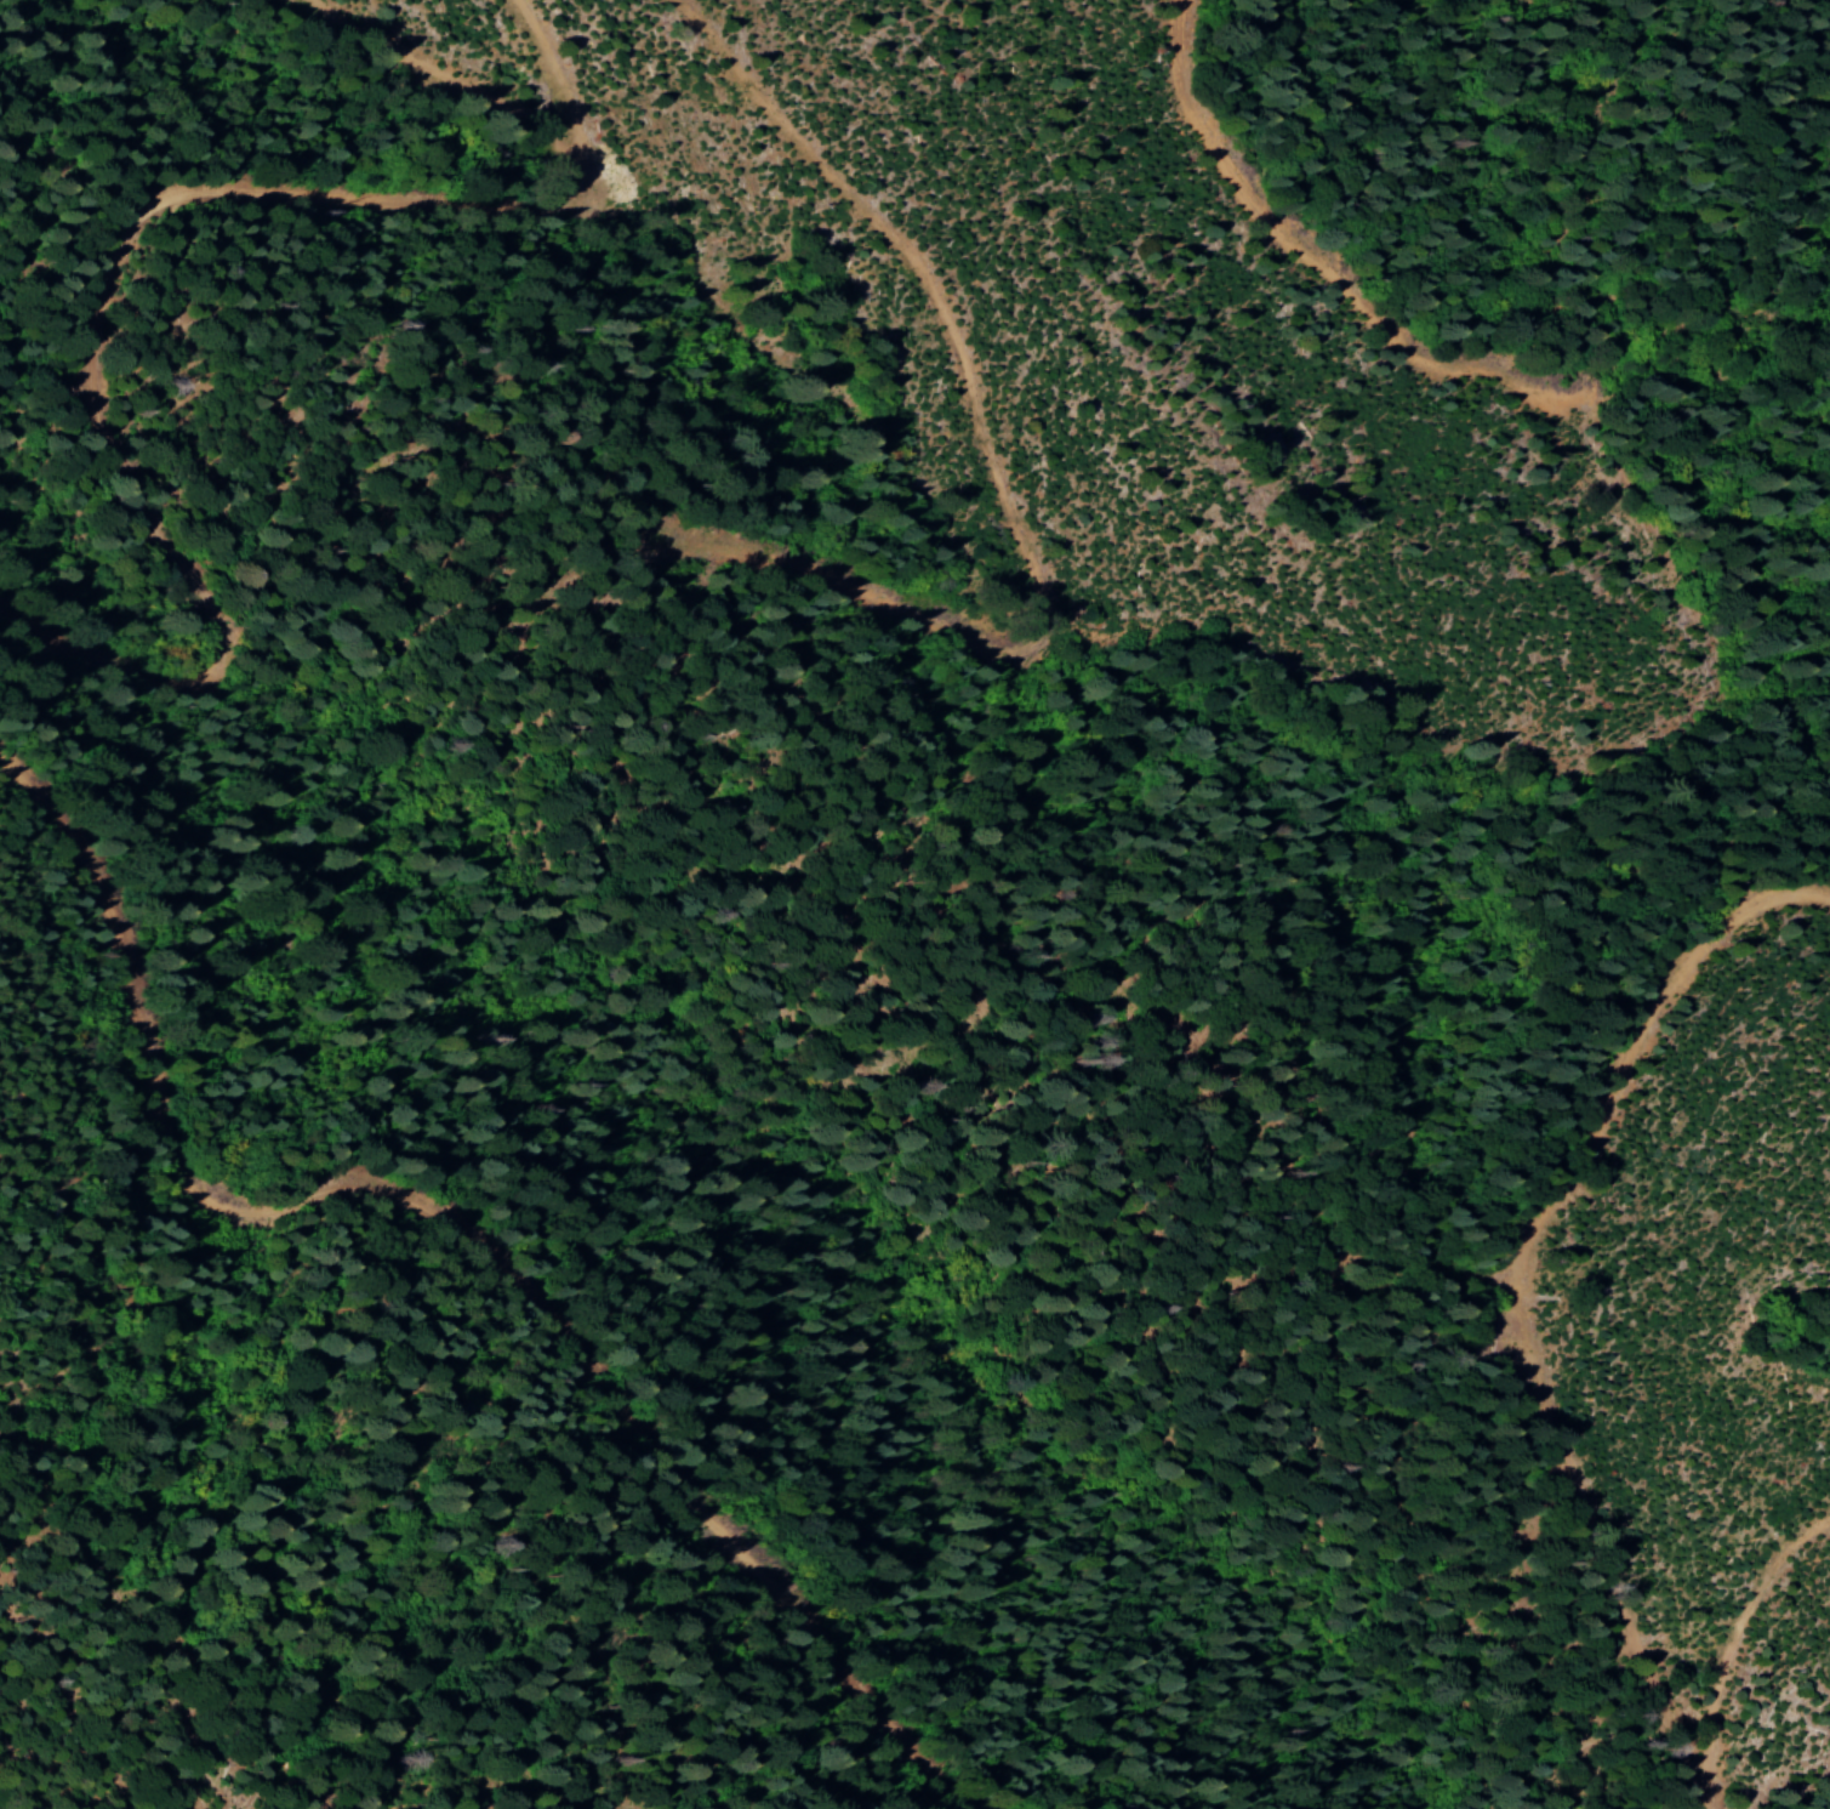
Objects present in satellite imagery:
road: (449, 80)
road: (112, 267)
road: (466, 1230)
road: (1527, 1297)

